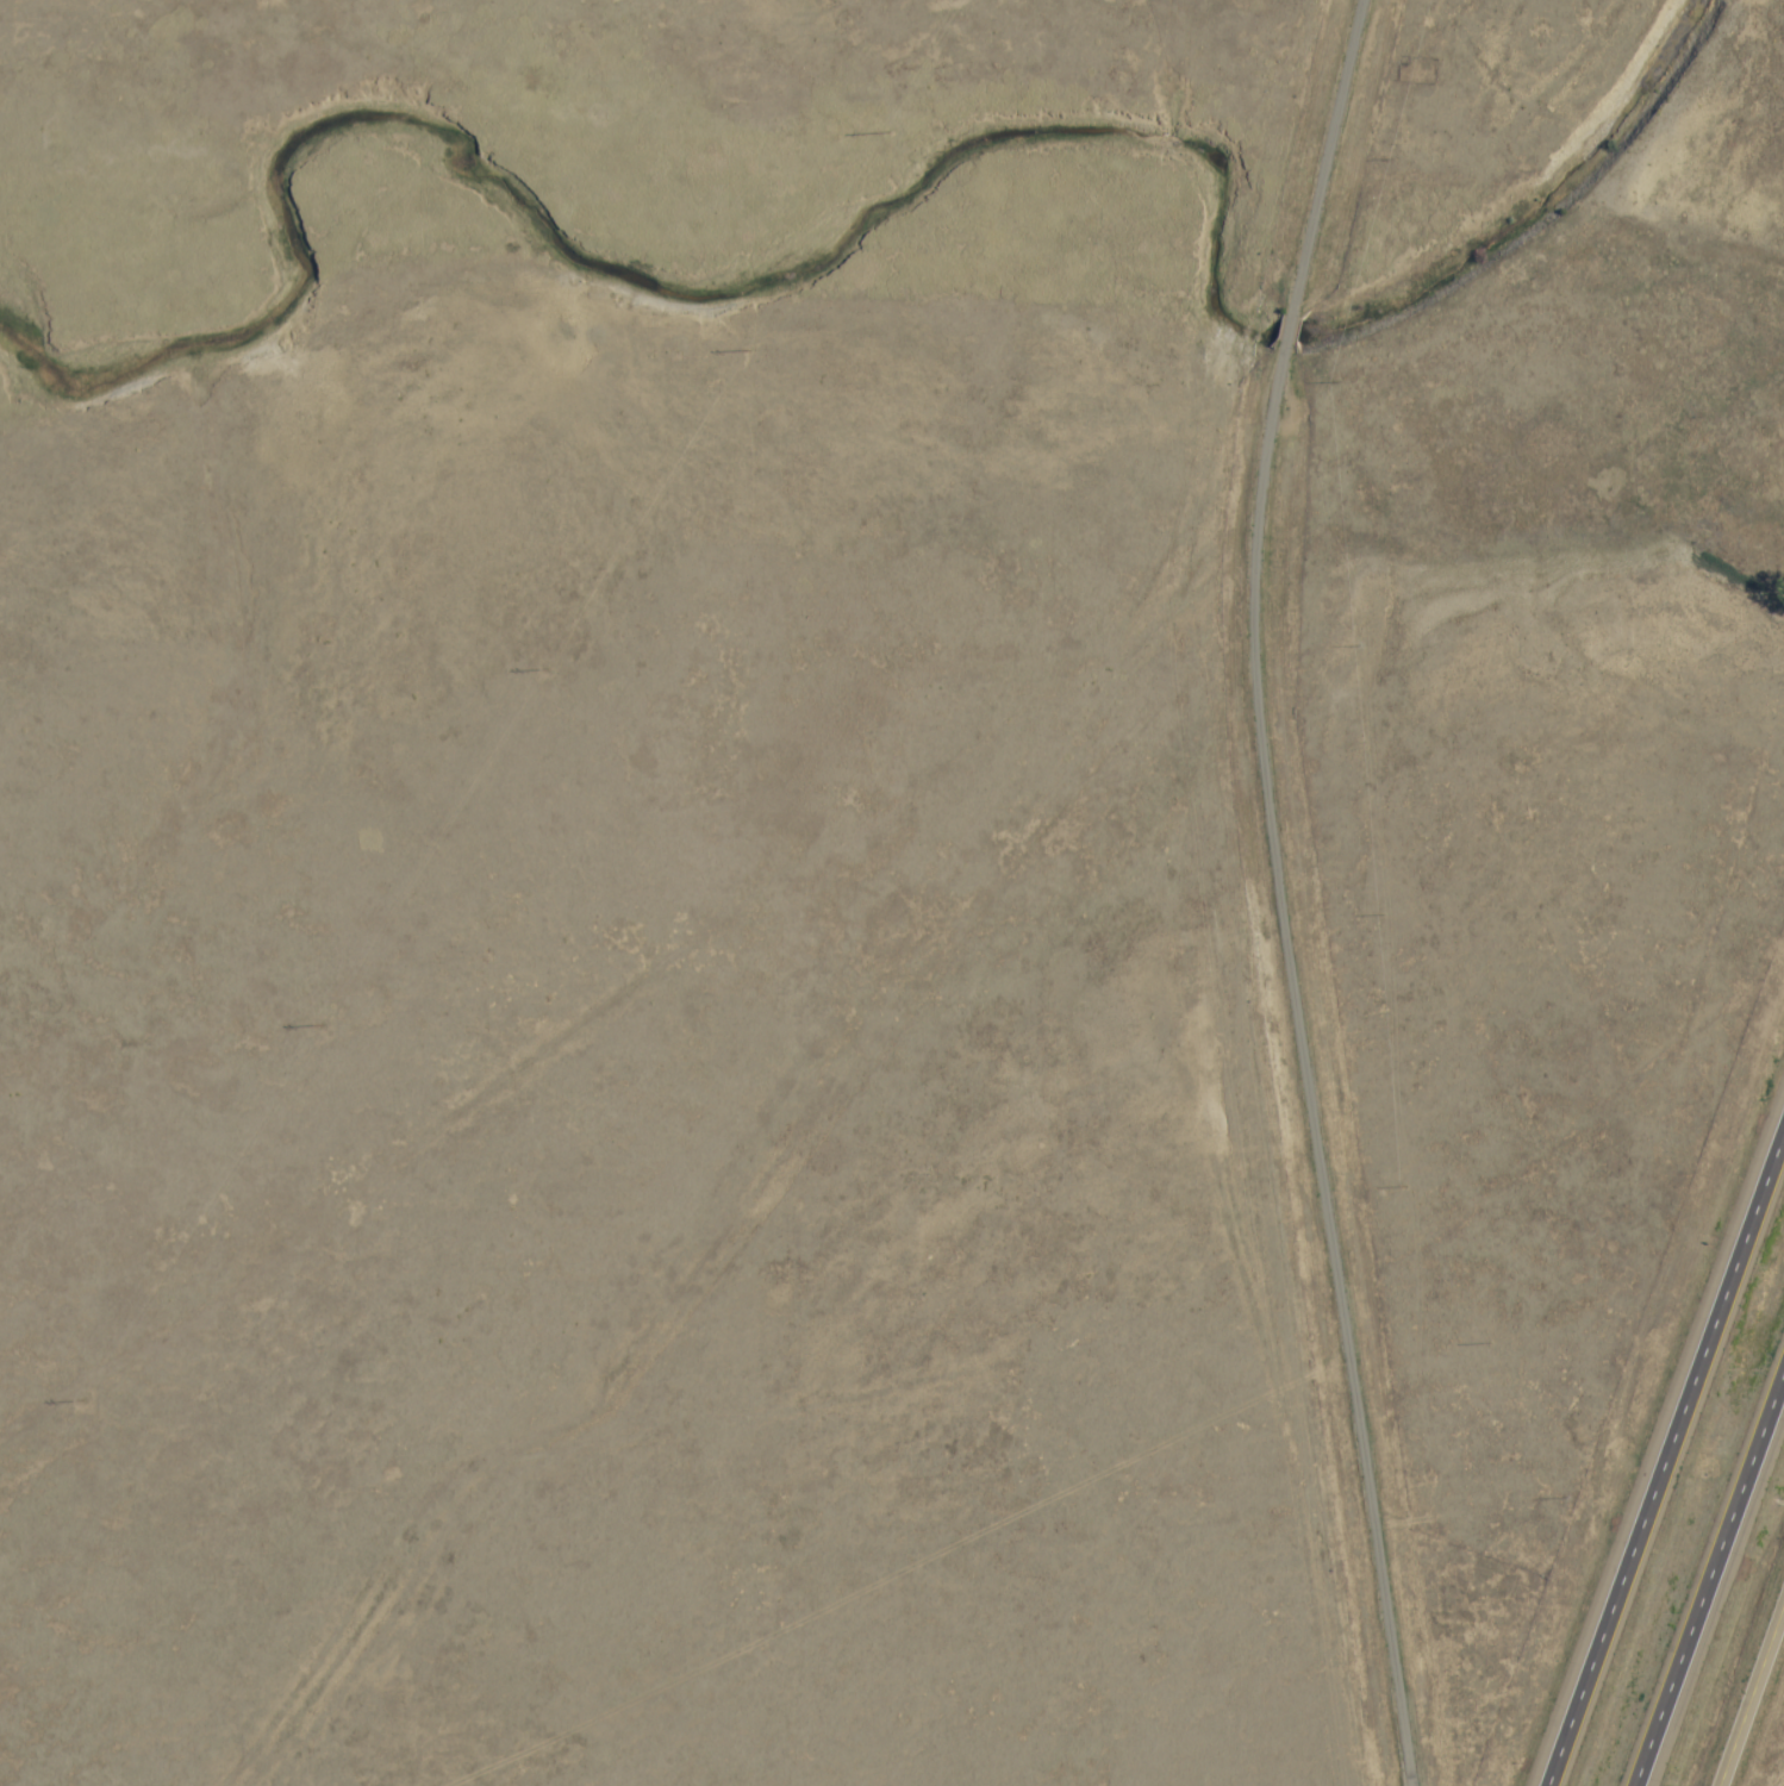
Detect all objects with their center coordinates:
road: (1323, 157)
road: (1287, 332)
road: (1299, 1068)
road: (1663, 1451)
road: (1715, 1585)
road: (1748, 1688)

